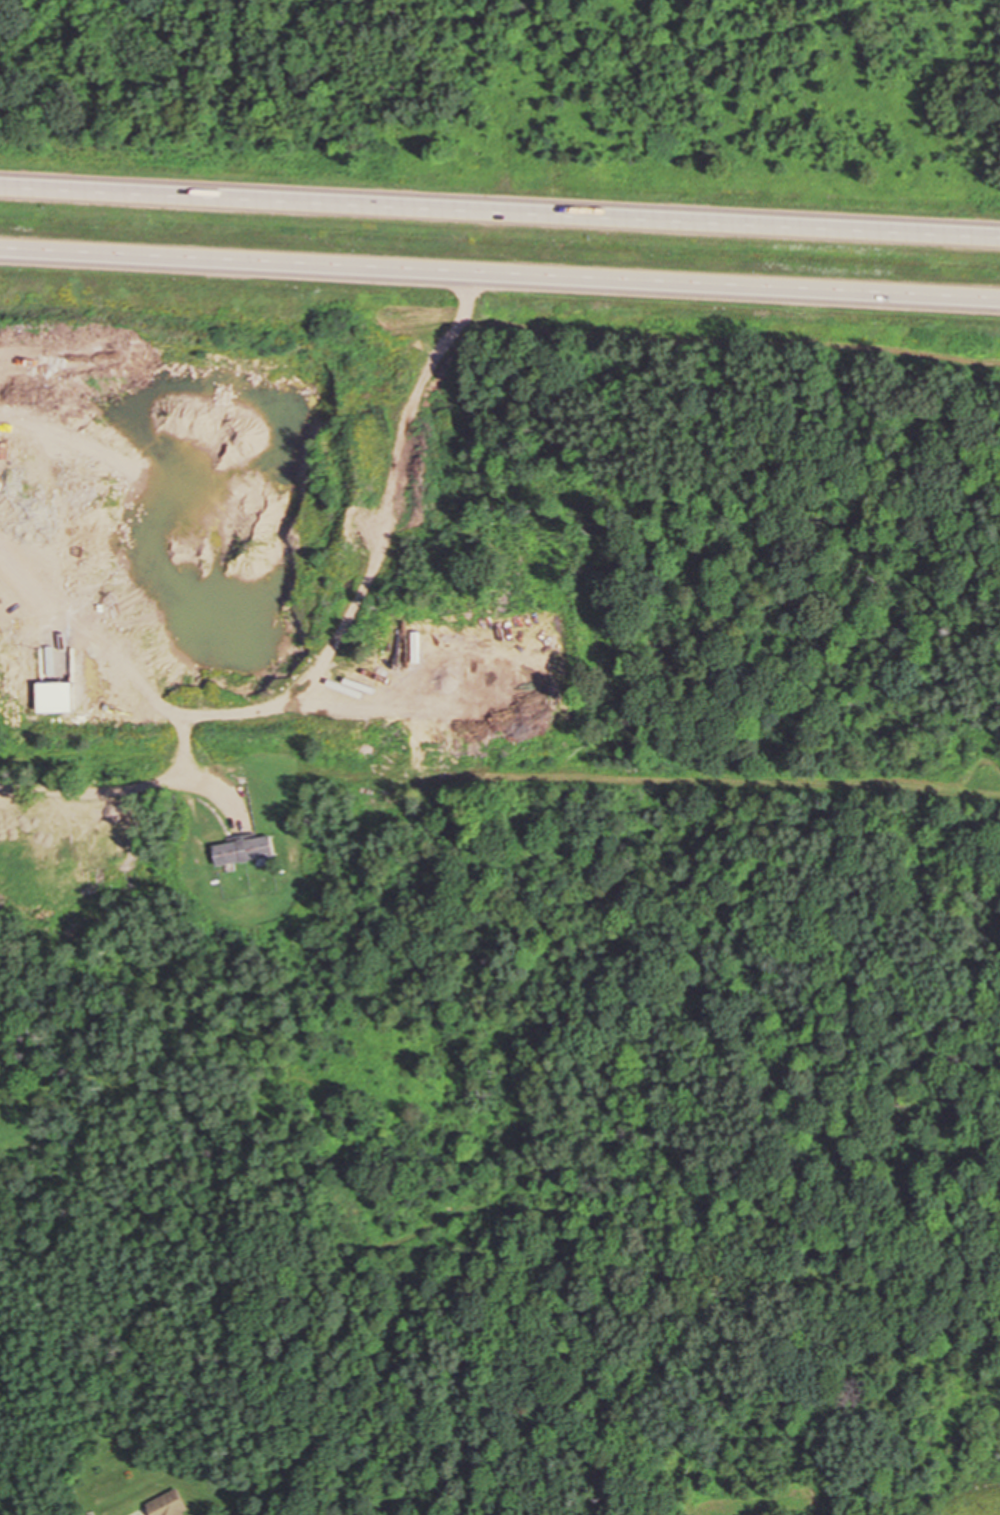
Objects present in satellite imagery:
road: (500, 211)
road: (500, 274)
building: (250, 851)
building: (174, 1505)

